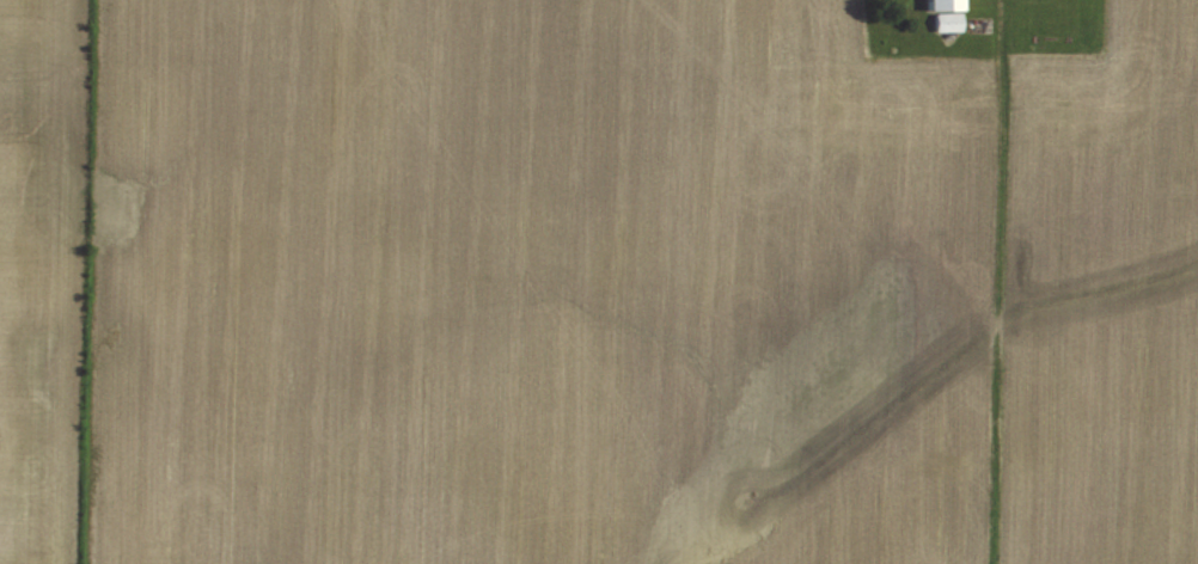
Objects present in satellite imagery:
building: (946, 19)

